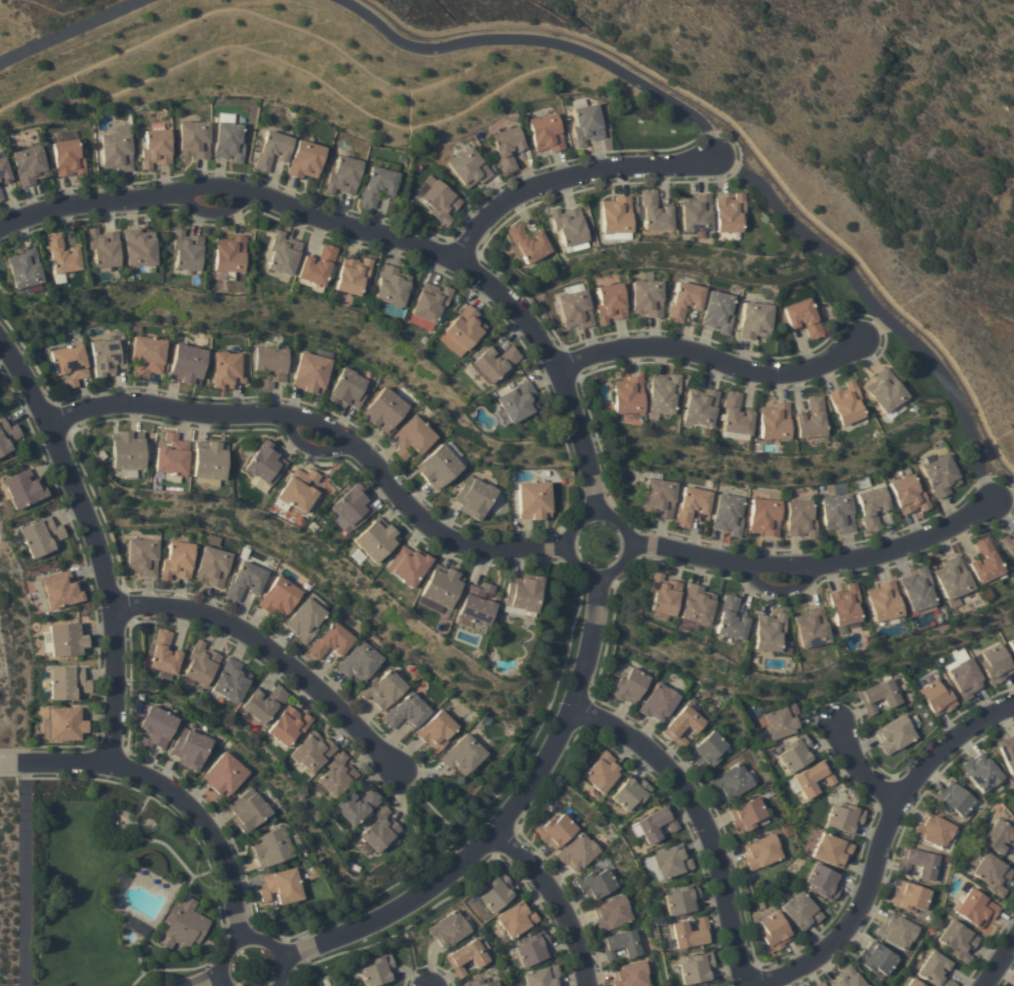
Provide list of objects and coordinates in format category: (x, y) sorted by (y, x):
road: (65, 27)
building: (586, 122)
building: (546, 133)
building: (194, 140)
building: (229, 142)
building: (156, 146)
building: (507, 147)
building: (116, 148)
building: (272, 150)
building: (68, 158)
building: (306, 159)
road: (723, 161)
building: (29, 165)
building: (469, 168)
building: (4, 171)
building: (343, 175)
road: (571, 177)
building: (378, 186)
building: (0, 196)
building: (439, 200)
building: (654, 212)
building: (695, 213)
building: (728, 213)
building: (616, 218)
building: (568, 226)
road: (378, 235)
building: (528, 243)
building: (139, 247)
building: (104, 248)
building: (571, 248)
building: (187, 250)
building: (283, 253)
building: (230, 255)
building: (61, 257)
building: (317, 266)
building: (24, 268)
building: (353, 275)
building: (392, 286)
building: (647, 298)
building: (685, 301)
building: (430, 302)
building: (610, 303)
building: (575, 309)
building: (718, 312)
building: (803, 318)
building: (755, 320)
building: (465, 327)
building: (148, 355)
building: (107, 357)
road: (710, 361)
building: (495, 362)
building: (70, 364)
building: (187, 364)
building: (270, 365)
building: (228, 369)
building: (311, 373)
building: (348, 389)
building: (885, 391)
building: (663, 393)
building: (628, 395)
building: (518, 402)
building: (846, 403)
building: (700, 406)
building: (384, 410)
building: (735, 415)
building: (811, 419)
building: (774, 422)
road: (326, 434)
building: (7, 435)
building: (412, 437)
building: (127, 450)
building: (172, 456)
building: (209, 460)
building: (265, 463)
building: (438, 466)
building: (940, 474)
building: (23, 488)
building: (299, 490)
building: (908, 494)
building: (474, 497)
building: (659, 498)
building: (534, 500)
road: (1005, 502)
building: (691, 505)
building: (352, 506)
building: (871, 507)
building: (837, 512)
building: (727, 514)
building: (764, 516)
building: (800, 519)
building: (39, 536)
building: (375, 539)
building: (1008, 544)
road: (572, 548)
road: (94, 550)
building: (142, 556)
building: (178, 560)
building: (984, 561)
road: (820, 564)
building: (408, 565)
building: (213, 566)
building: (952, 580)
building: (245, 581)
building: (441, 586)
building: (61, 590)
building: (917, 590)
building: (523, 593)
building: (663, 594)
building: (279, 597)
building: (884, 602)
building: (476, 604)
building: (697, 605)
building: (845, 605)
building: (307, 617)
building: (730, 619)
building: (812, 628)
building: (769, 631)
building: (67, 640)
building: (331, 641)
building: (1011, 645)
road: (267, 650)
building: (163, 653)
building: (359, 661)
building: (200, 663)
building: (995, 664)
building: (1013, 667)
building: (965, 678)
building: (231, 681)
building: (66, 682)
building: (628, 686)
building: (383, 689)
building: (879, 695)
building: (936, 697)
building: (658, 702)
building: (263, 703)
building: (406, 712)
building: (781, 721)
water tower: (836, 722)
building: (67, 724)
building: (288, 725)
building: (681, 725)
building: (156, 727)
building: (436, 732)
building: (894, 734)
building: (190, 749)
building: (708, 750)
building: (313, 751)
building: (1007, 752)
building: (795, 753)
building: (462, 755)
road: (6, 763)
road: (854, 769)
building: (601, 772)
building: (981, 772)
building: (224, 775)
building: (337, 775)
building: (813, 778)
building: (731, 782)
building: (630, 793)
road: (163, 799)
building: (953, 799)
building: (356, 805)
building: (248, 810)
building: (747, 815)
road: (701, 818)
building: (844, 818)
road: (503, 821)
building: (656, 823)
building: (379, 830)
building: (555, 830)
building: (933, 830)
building: (999, 836)
building: (271, 847)
road: (877, 847)
building: (831, 850)
building: (761, 851)
building: (577, 852)
building: (668, 862)
building: (918, 863)
road: (24, 874)
building: (992, 874)
building: (823, 882)
building: (596, 883)
building: (283, 886)
building: (496, 892)
building: (910, 897)
building: (682, 899)
road: (553, 902)
building: (975, 908)
building: (800, 911)
building: (612, 913)
building: (516, 919)
building: (183, 924)
building: (448, 929)
building: (896, 931)
building: (773, 932)
building: (691, 933)
road: (245, 937)
building: (957, 940)
building: (620, 944)
building: (533, 948)
building: (466, 957)
building: (876, 959)
road: (998, 960)
building: (697, 968)
building: (377, 970)
building: (935, 970)
building: (630, 974)
building: (542, 976)
road: (193, 978)
building: (847, 978)
building: (481, 983)
building: (906, 983)
building: (913, 983)
building: (819, 984)

